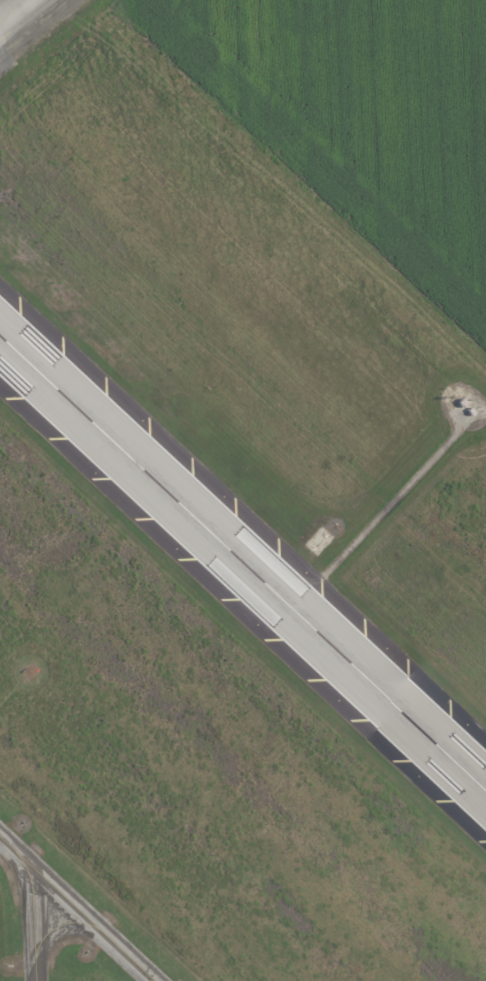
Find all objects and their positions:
airport taxiway: (13, 11)
airport: (243, 490)
airport runway: (243, 565)
airport taxiway: (76, 908)
airport taxiway: (33, 914)

